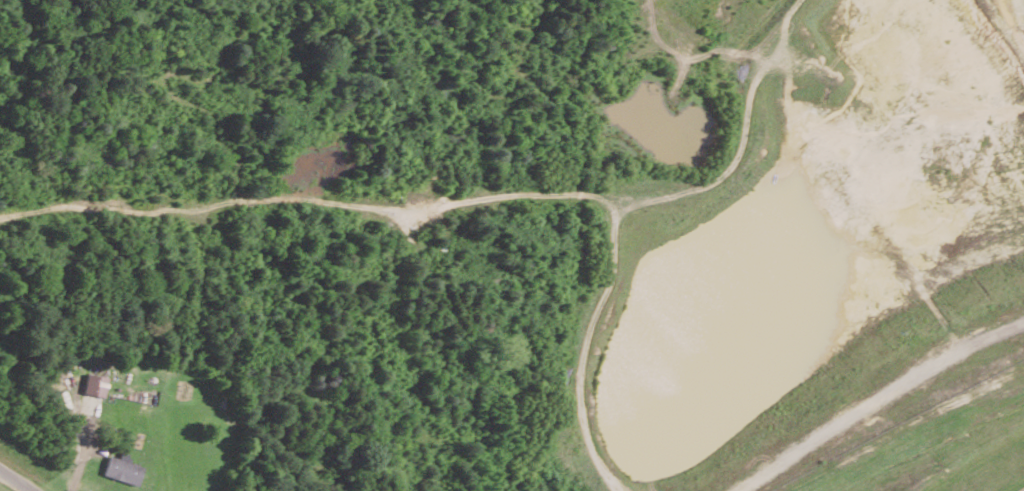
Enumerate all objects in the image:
building: (95, 384)
building: (122, 469)
road: (19, 478)

